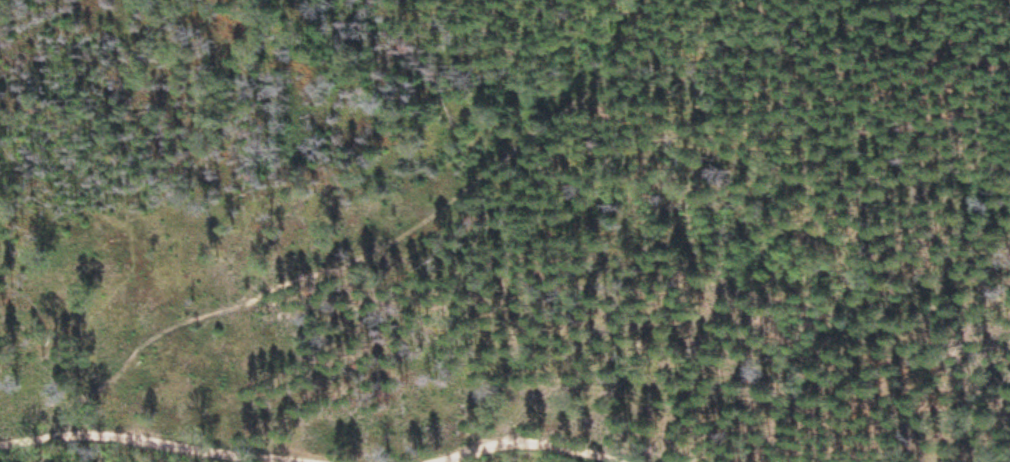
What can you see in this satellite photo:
road: (384, 245)
road: (132, 437)
road: (553, 443)

